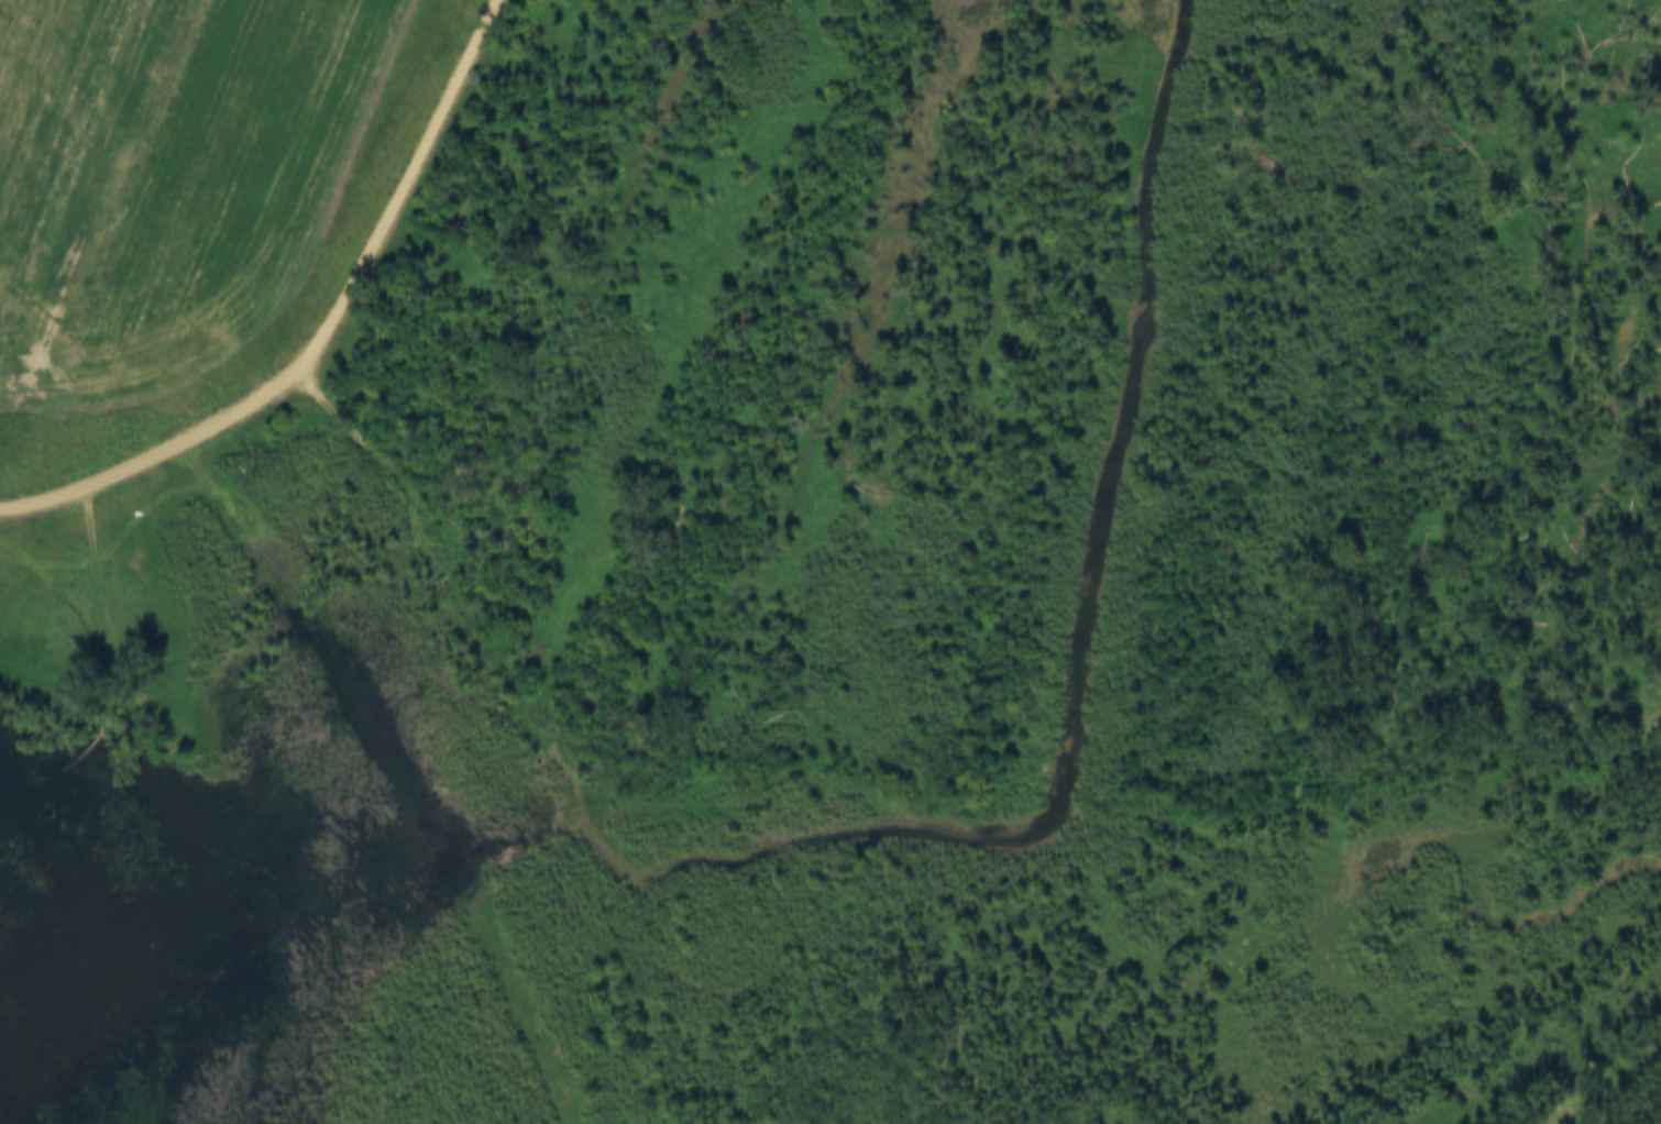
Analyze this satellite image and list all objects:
road: (317, 328)
road: (496, 686)

